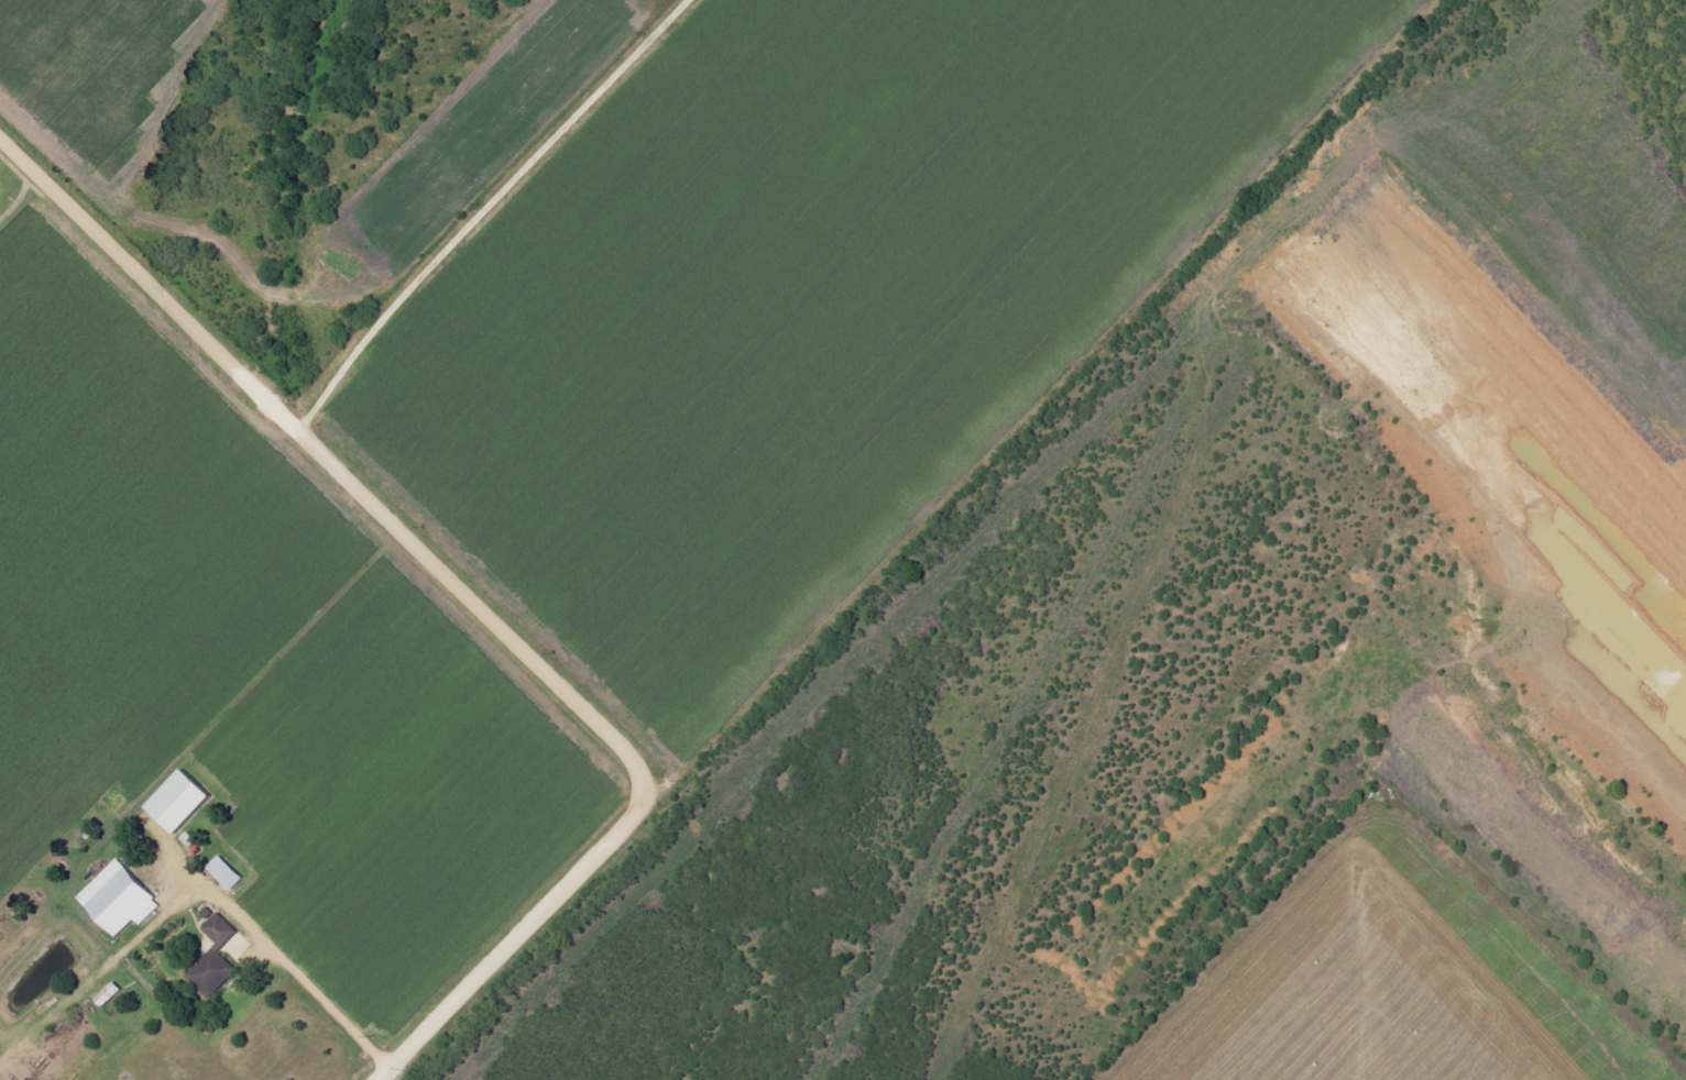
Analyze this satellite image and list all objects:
road: (490, 208)
road: (475, 596)
building: (178, 802)
building: (226, 873)
building: (119, 900)
building: (215, 957)
road: (271, 969)
building: (109, 994)

